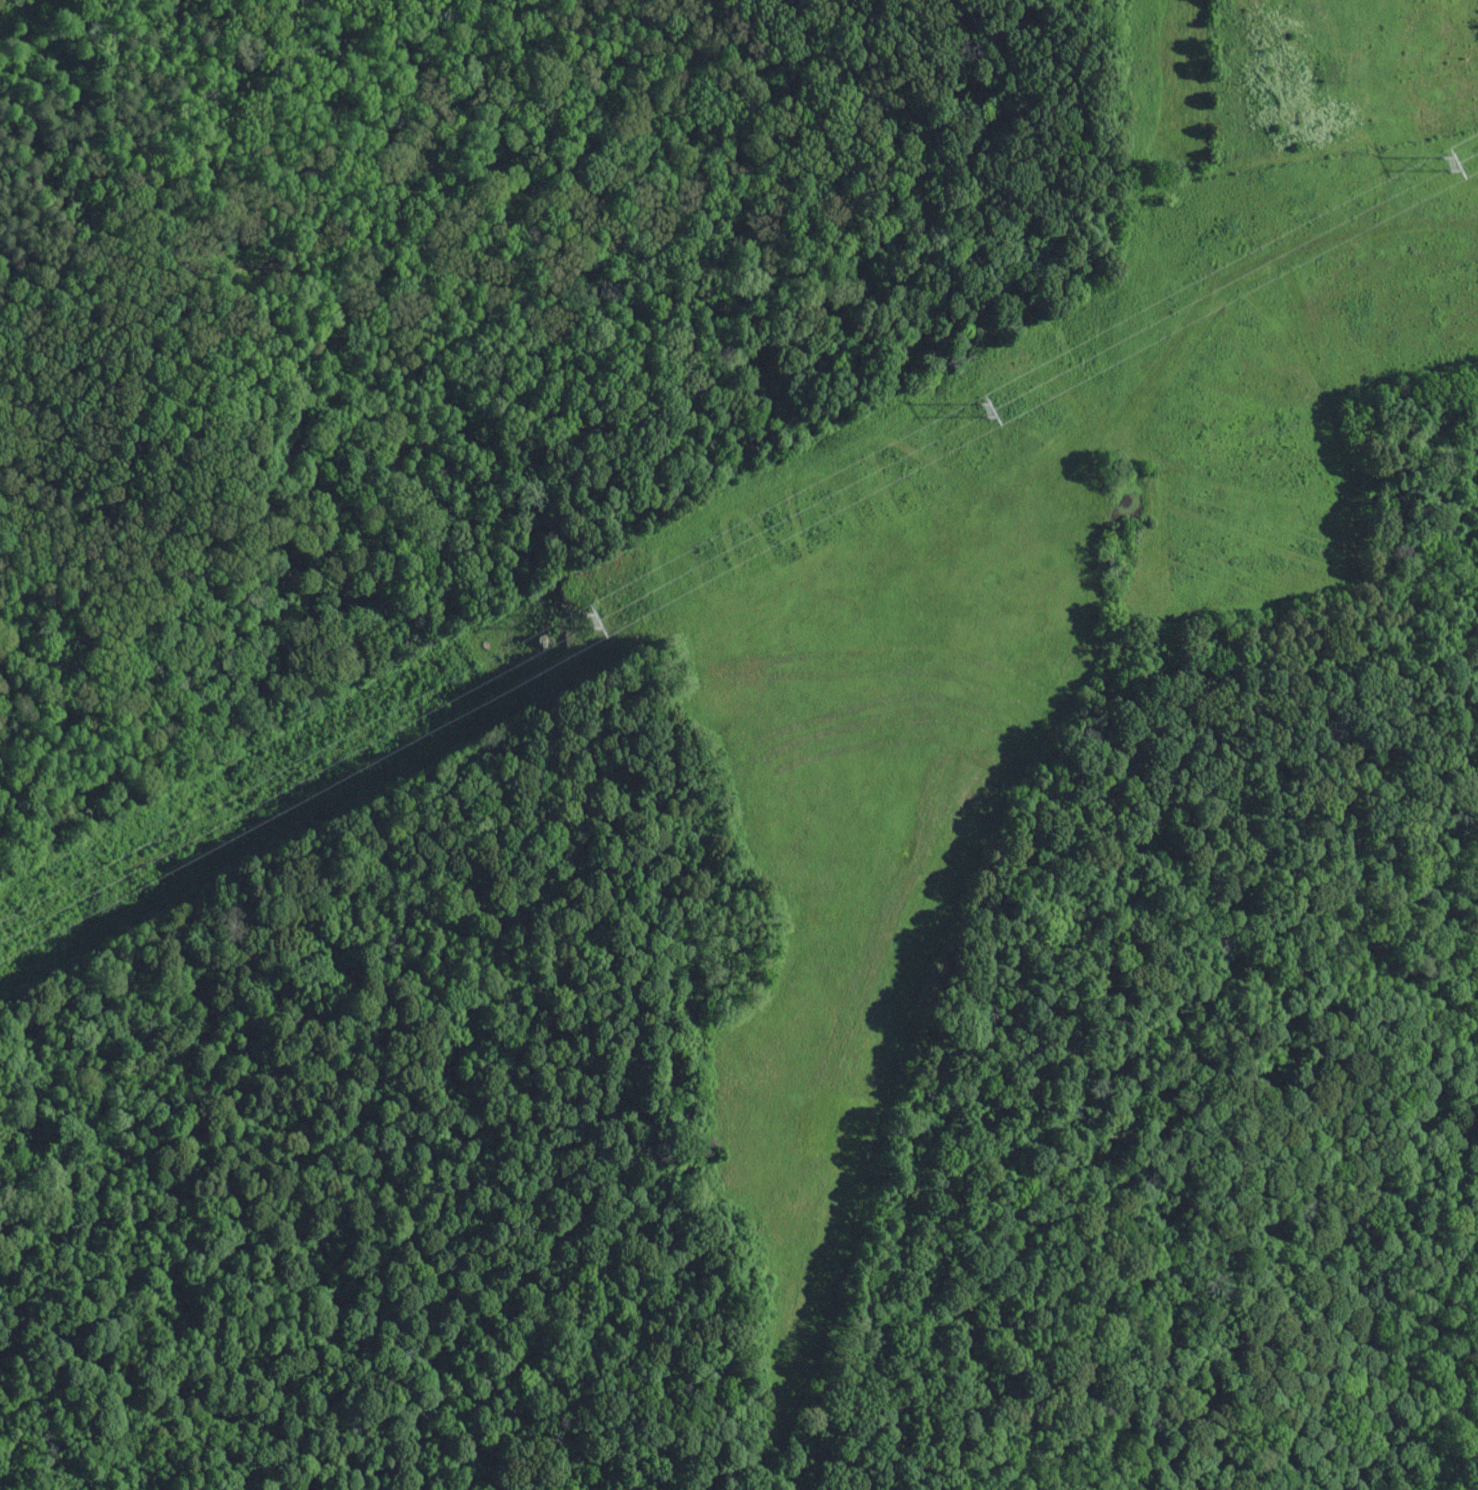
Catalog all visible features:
power tower: (1442, 161)
power tower: (980, 410)
power tower: (588, 622)

